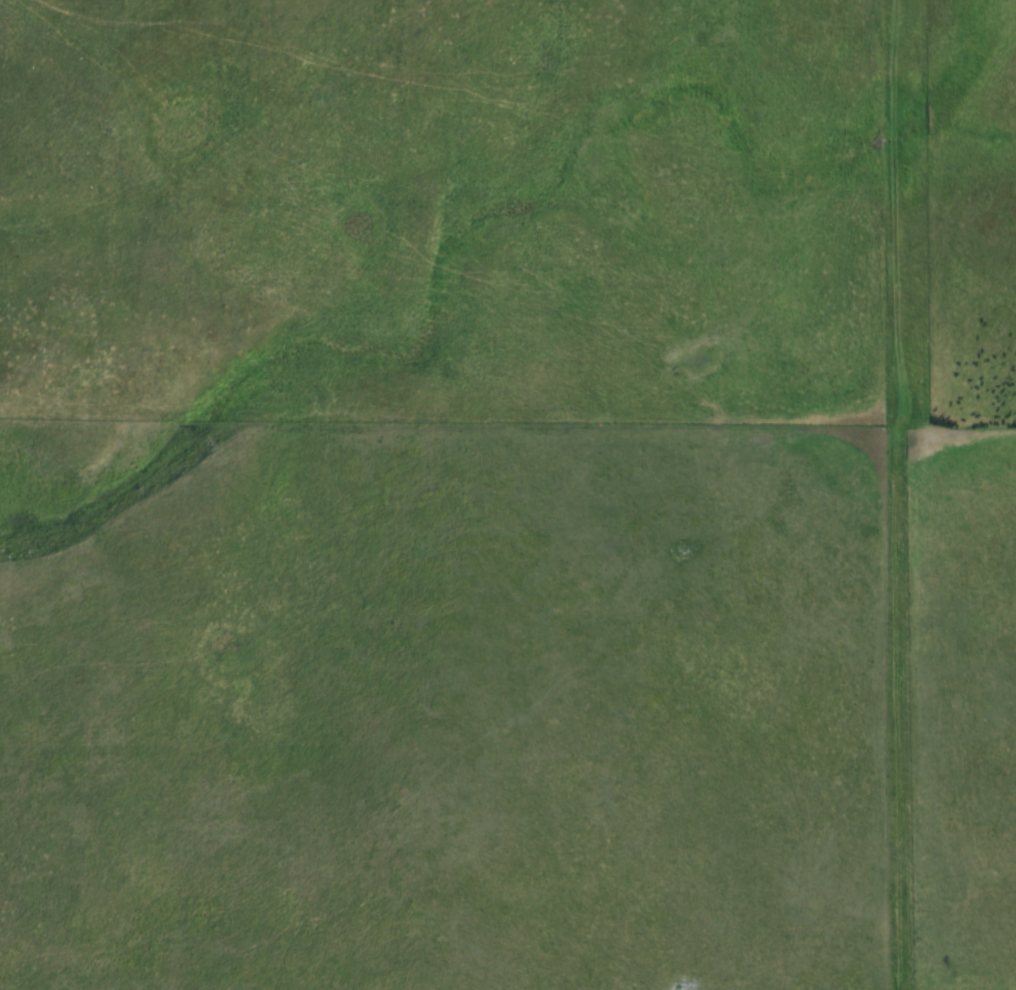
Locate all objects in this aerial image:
road: (903, 495)

